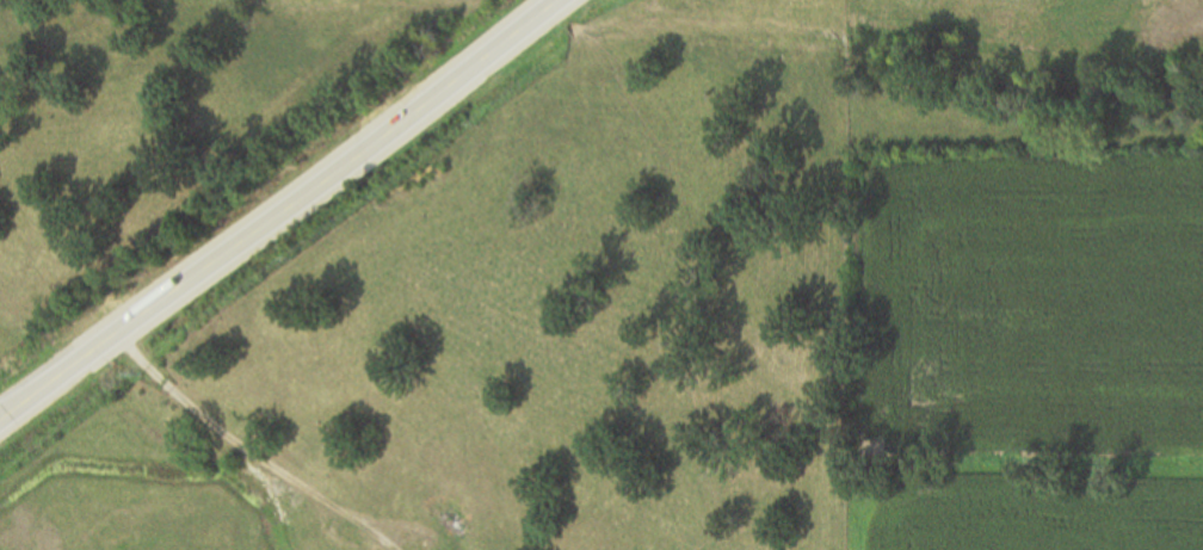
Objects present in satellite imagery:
road: (283, 210)
road: (245, 451)

